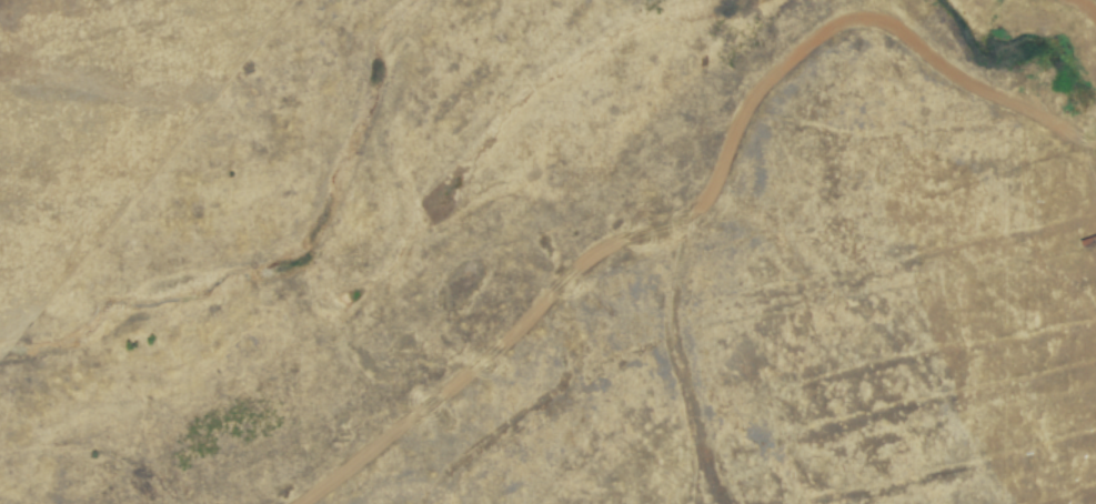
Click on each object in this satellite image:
road: (1076, 20)
road: (704, 195)
airport: (547, 252)
road: (742, 315)
road: (683, 366)

